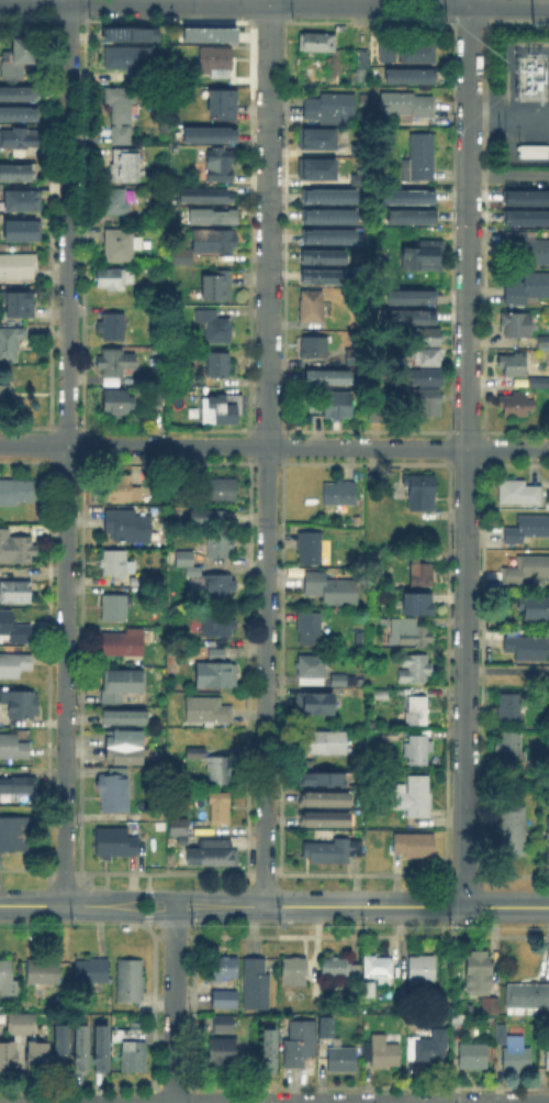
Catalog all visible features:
road: (274, 3)
building: (132, 31)
building: (208, 33)
building: (318, 42)
building: (15, 52)
building: (386, 52)
building: (418, 52)
building: (128, 58)
building: (210, 62)
building: (410, 77)
building: (231, 82)
building: (16, 91)
building: (223, 102)
power substation: (526, 102)
building: (405, 103)
building: (329, 104)
building: (121, 111)
building: (16, 112)
building: (209, 135)
building: (320, 137)
building: (20, 139)
building: (529, 150)
building: (423, 157)
building: (221, 163)
building: (122, 166)
building: (320, 167)
building: (14, 174)
building: (413, 192)
building: (524, 196)
building: (206, 197)
building: (329, 198)
building: (20, 199)
building: (115, 202)
building: (412, 216)
building: (525, 217)
building: (213, 218)
building: (329, 219)
building: (20, 228)
building: (330, 240)
building: (212, 242)
building: (121, 244)
building: (527, 249)
building: (178, 257)
building: (322, 257)
building: (423, 261)
building: (18, 267)
building: (112, 279)
building: (323, 279)
building: (215, 286)
building: (527, 289)
building: (413, 296)
building: (21, 307)
building: (312, 307)
building: (413, 316)
building: (518, 324)
building: (215, 326)
building: (112, 327)
building: (429, 335)
building: (544, 340)
building: (11, 343)
building: (314, 349)
building: (357, 356)
building: (423, 357)
building: (112, 364)
building: (220, 364)
building: (514, 364)
building: (326, 378)
building: (425, 378)
building: (537, 382)
building: (5, 394)
building: (548, 396)
building: (427, 399)
building: (157, 400)
building: (119, 404)
building: (338, 404)
building: (516, 405)
building: (227, 407)
building: (376, 411)
road: (274, 445)
road: (66, 452)
road: (266, 453)
road: (466, 453)
building: (377, 484)
building: (120, 488)
building: (215, 488)
building: (15, 490)
building: (341, 493)
building: (422, 493)
building: (519, 495)
building: (210, 516)
building: (358, 521)
building: (128, 527)
building: (528, 529)
building: (14, 545)
building: (221, 545)
building: (311, 548)
building: (433, 551)
building: (373, 553)
building: (184, 560)
building: (114, 563)
building: (419, 569)
building: (528, 569)
building: (222, 586)
building: (332, 589)
building: (15, 592)
building: (418, 603)
building: (114, 606)
building: (535, 608)
building: (219, 626)
building: (14, 628)
building: (309, 629)
building: (408, 633)
building: (113, 646)
building: (525, 647)
building: (213, 652)
building: (14, 665)
building: (415, 670)
building: (312, 671)
building: (211, 673)
building: (343, 681)
building: (119, 682)
building: (379, 692)
building: (21, 702)
building: (318, 706)
building: (509, 707)
building: (417, 710)
building: (206, 712)
building: (124, 714)
building: (390, 737)
building: (123, 743)
building: (327, 743)
building: (13, 747)
building: (418, 747)
building: (194, 750)
building: (509, 751)
building: (309, 762)
building: (220, 771)
building: (324, 779)
building: (16, 786)
building: (114, 794)
building: (325, 796)
building: (413, 797)
building: (219, 808)
building: (325, 817)
building: (180, 828)
building: (513, 831)
building: (14, 835)
building: (115, 843)
building: (548, 845)
building: (415, 847)
building: (335, 851)
building: (216, 854)
road: (164, 895)
road: (32, 905)
road: (148, 905)
road: (405, 906)
road: (220, 914)
road: (119, 915)
building: (378, 968)
building: (340, 969)
building: (223, 970)
building: (423, 970)
building: (7, 972)
building: (43, 972)
building: (92, 972)
building: (294, 972)
building: (480, 975)
building: (254, 981)
building: (131, 983)
building: (368, 990)
building: (527, 997)
road: (173, 999)
building: (225, 1000)
building: (491, 1006)
building: (22, 1023)
building: (225, 1025)
building: (458, 1025)
building: (327, 1028)
building: (61, 1044)
building: (82, 1044)
building: (103, 1044)
building: (300, 1045)
building: (429, 1047)
building: (267, 1048)
building: (36, 1051)
building: (133, 1052)
building: (9, 1054)
building: (383, 1054)
building: (515, 1054)
building: (223, 1055)
building: (473, 1057)
building: (545, 1058)
building: (344, 1059)
road: (224, 1102)

